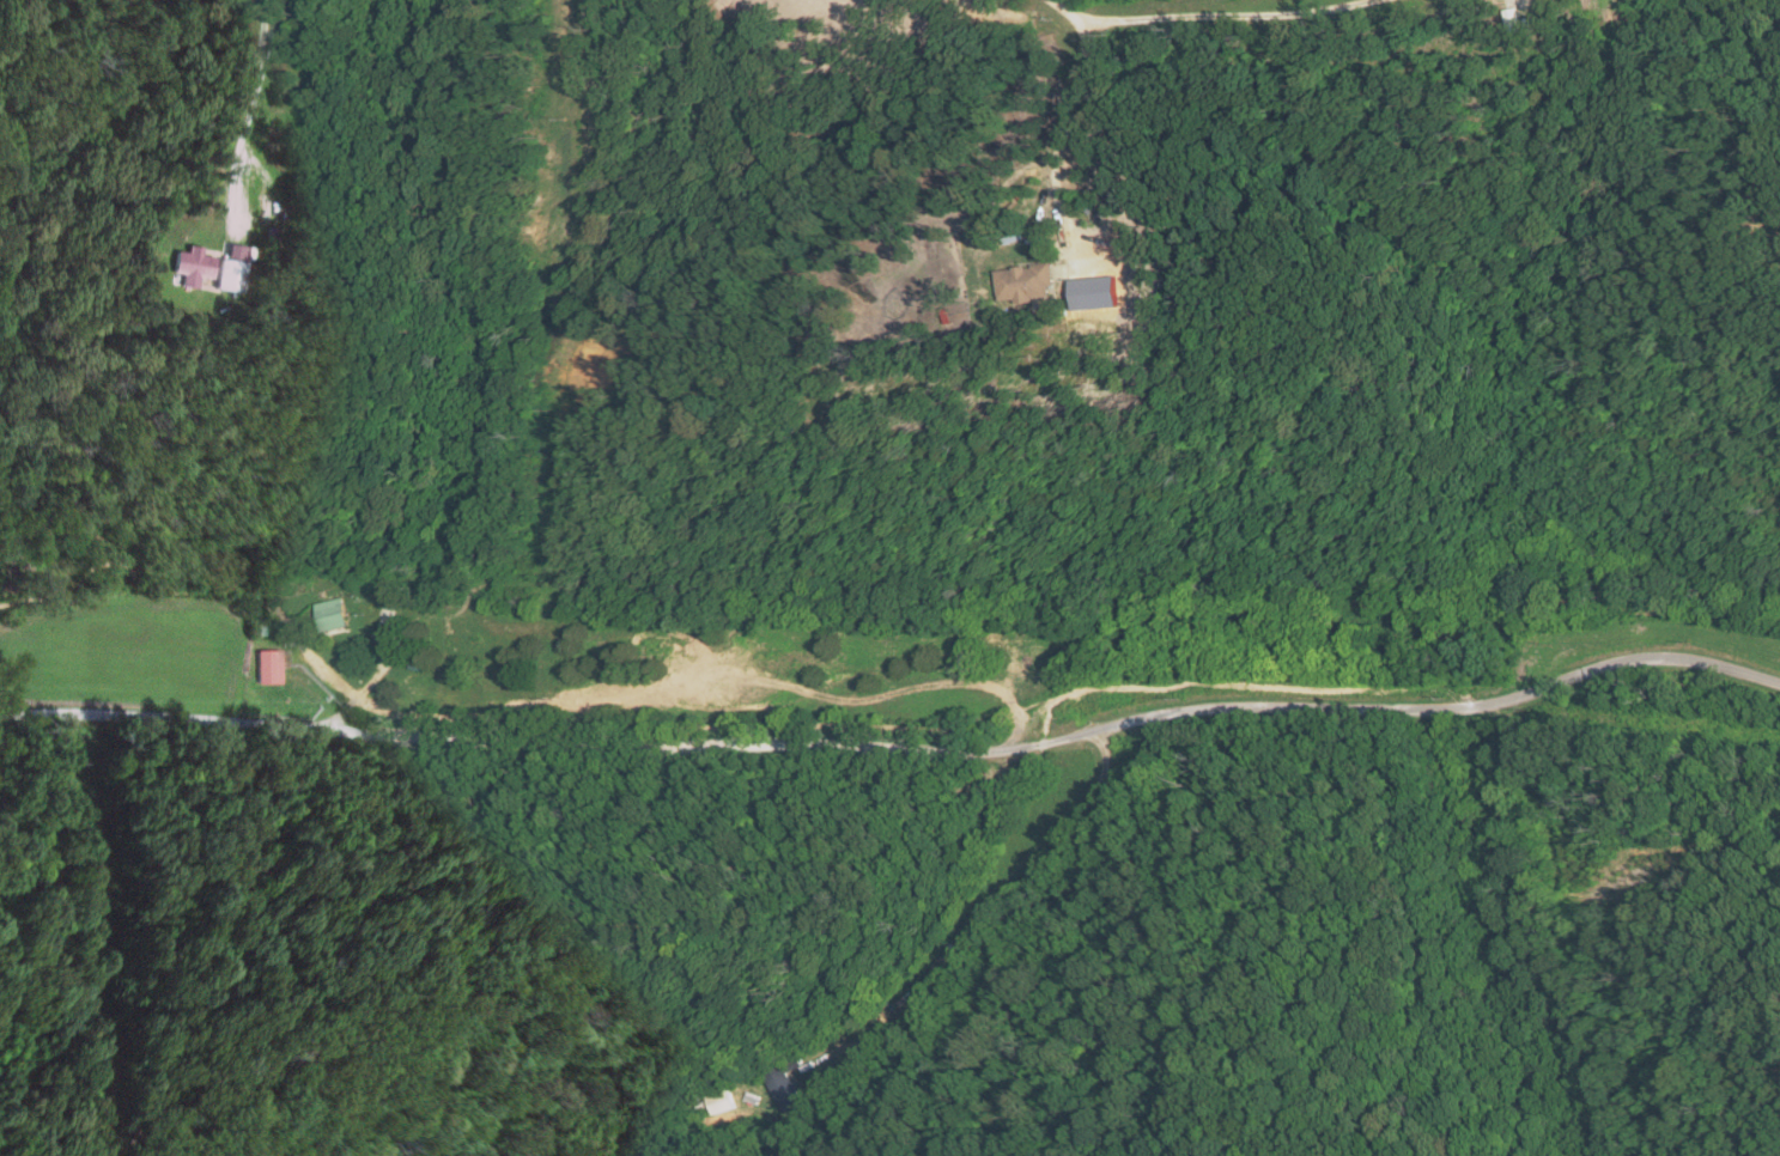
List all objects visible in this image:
road: (1063, 8)
road: (1232, 14)
road: (1052, 138)
building: (187, 266)
building: (1025, 284)
building: (330, 615)
building: (266, 665)
road: (897, 744)
road: (956, 943)
building: (786, 1088)

